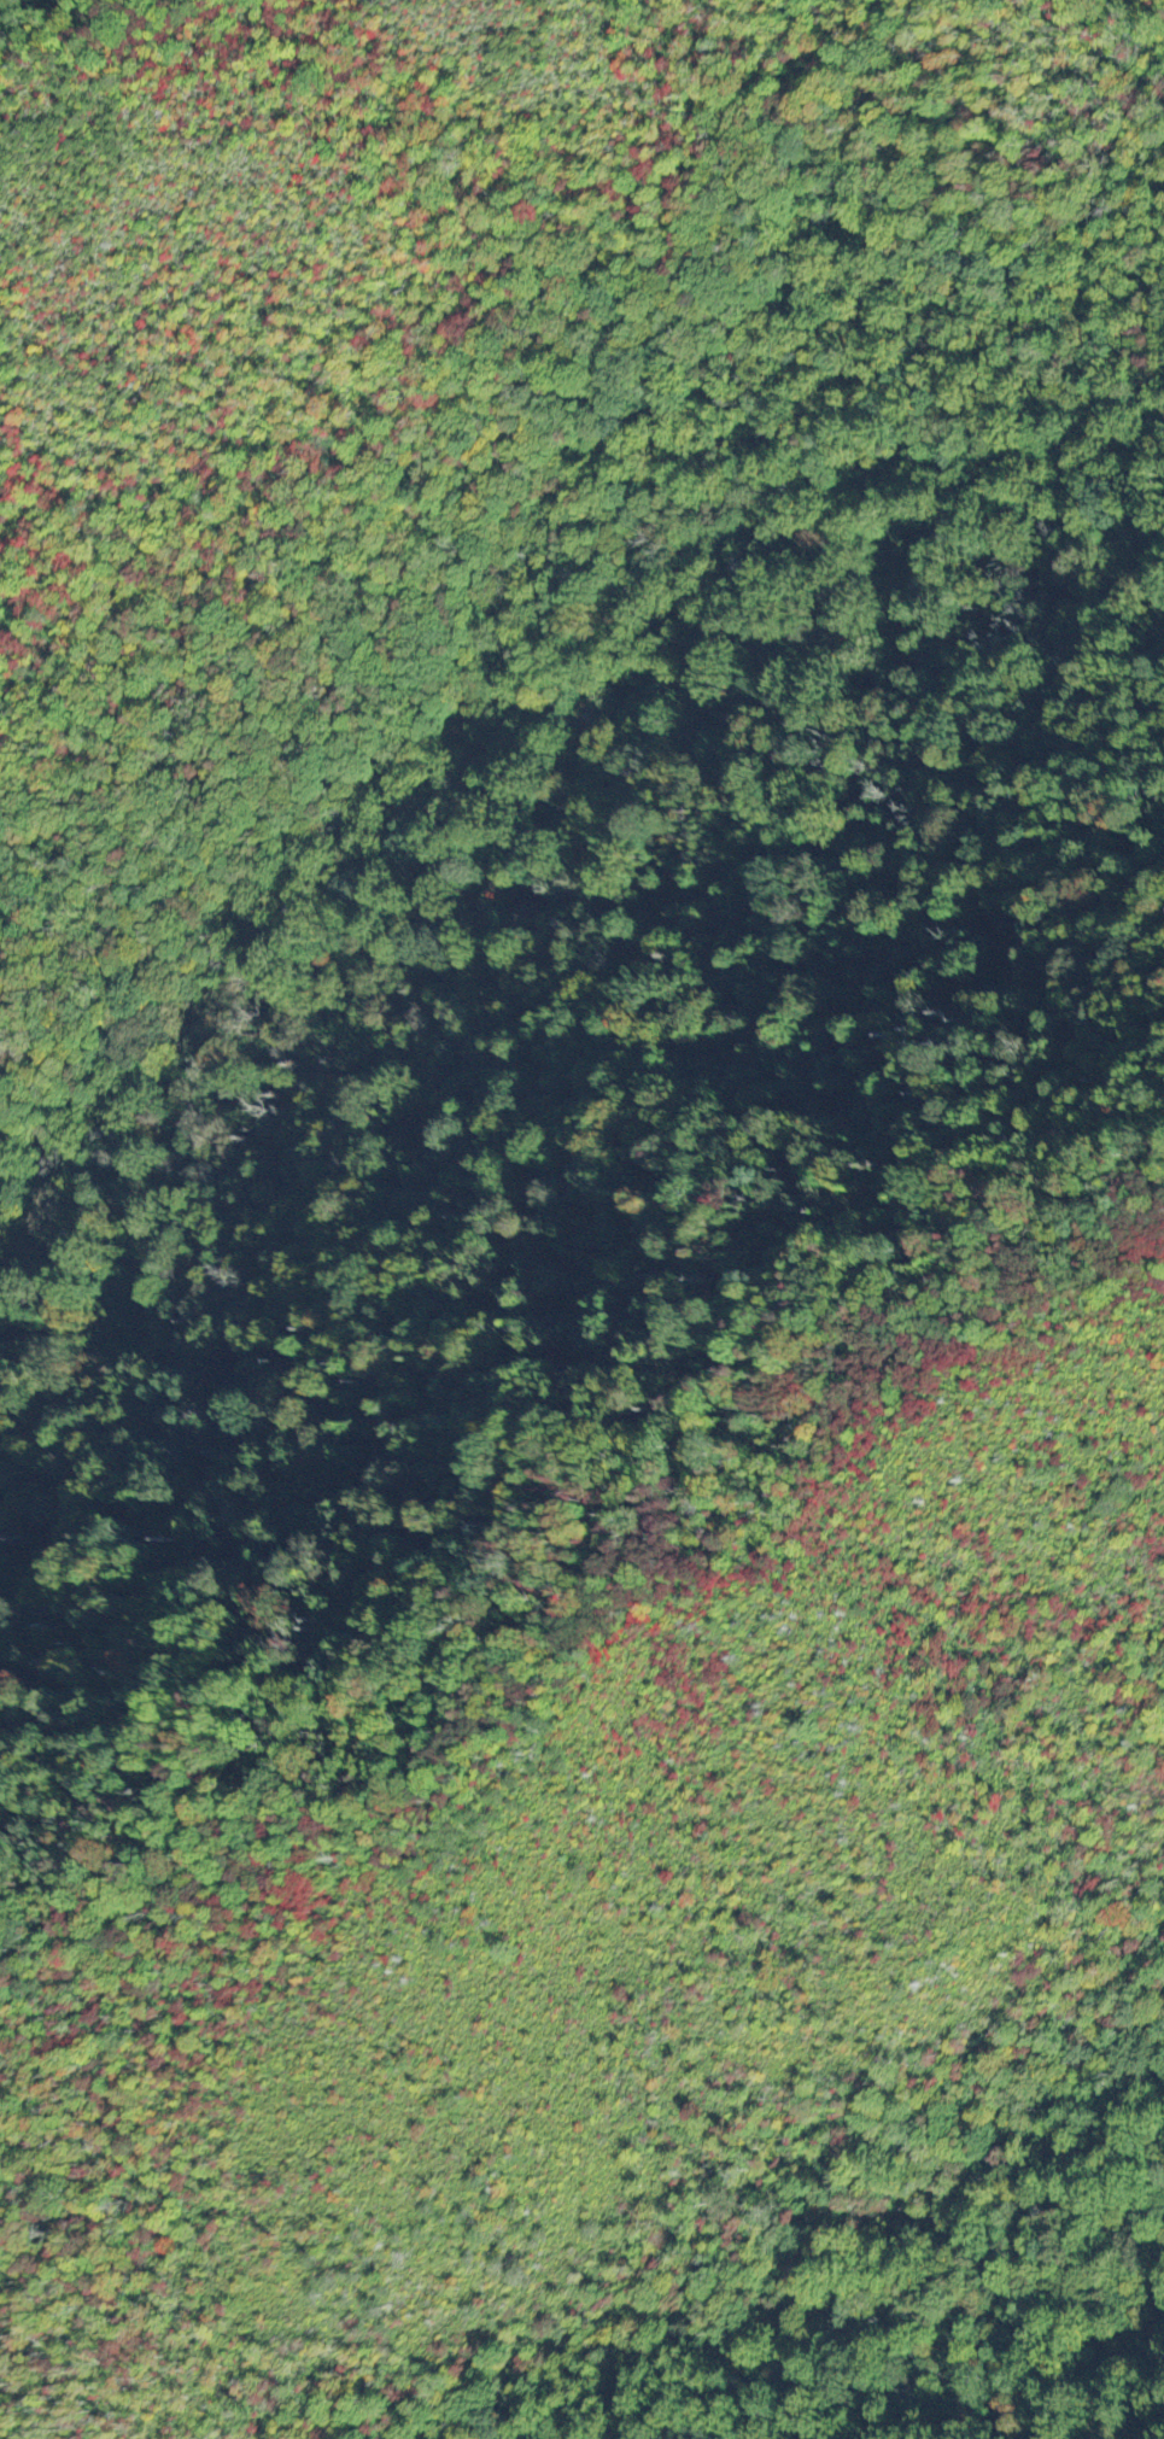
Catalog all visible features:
road: (1113, 2410)

